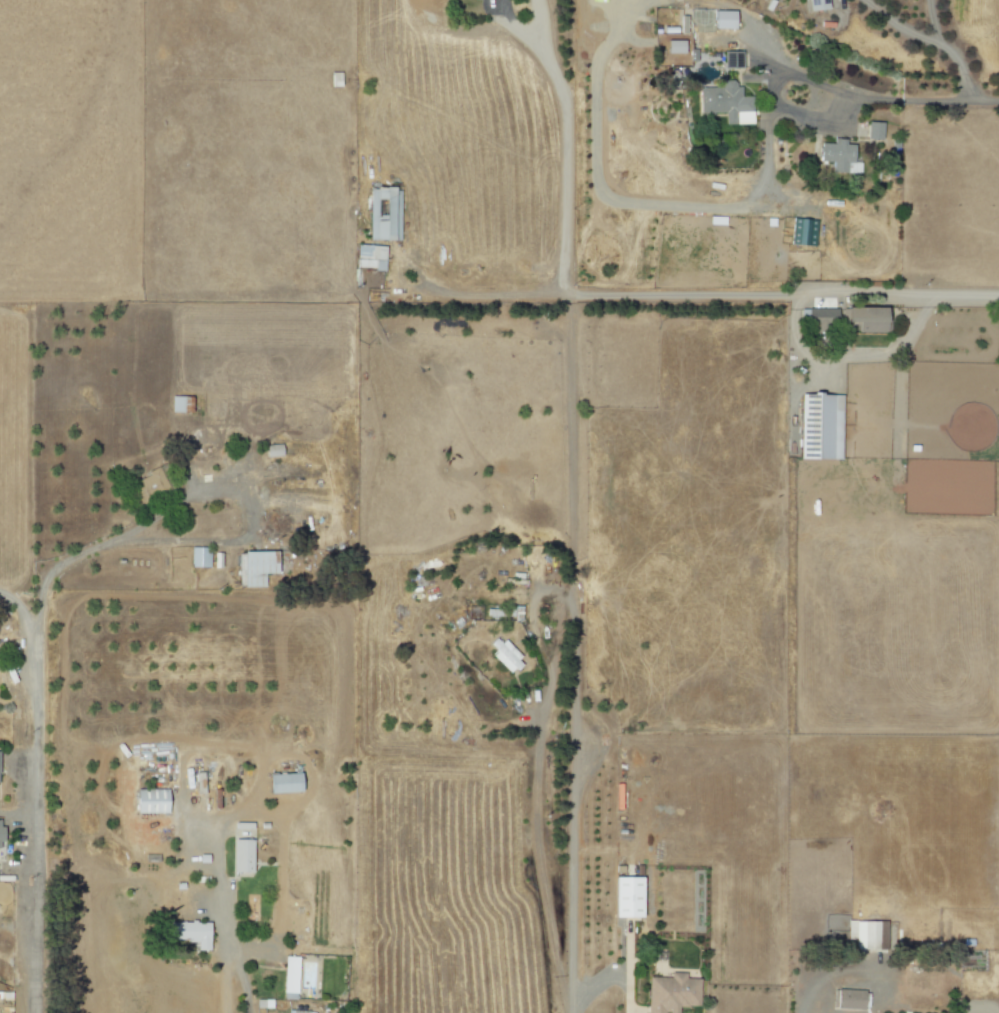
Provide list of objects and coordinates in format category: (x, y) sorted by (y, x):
building: (816, 5)
building: (722, 19)
road: (932, 20)
road: (897, 26)
building: (673, 47)
building: (730, 60)
road: (957, 62)
road: (918, 91)
building: (725, 103)
road: (772, 108)
building: (873, 131)
road: (566, 149)
building: (836, 155)
building: (383, 214)
building: (802, 233)
building: (369, 257)
road: (627, 294)
road: (968, 294)
building: (816, 317)
building: (867, 319)
road: (848, 355)
building: (818, 427)
building: (272, 450)
building: (148, 484)
road: (570, 513)
road: (197, 540)
building: (198, 557)
building: (255, 568)
building: (503, 655)
road: (536, 782)
building: (282, 783)
road: (33, 796)
building: (150, 801)
road: (264, 815)
building: (241, 856)
road: (574, 873)
building: (626, 896)
building: (189, 933)
building: (866, 934)
building: (289, 977)
road: (831, 978)
road: (224, 982)
road: (243, 982)
road: (608, 983)
building: (670, 993)
building: (848, 999)

